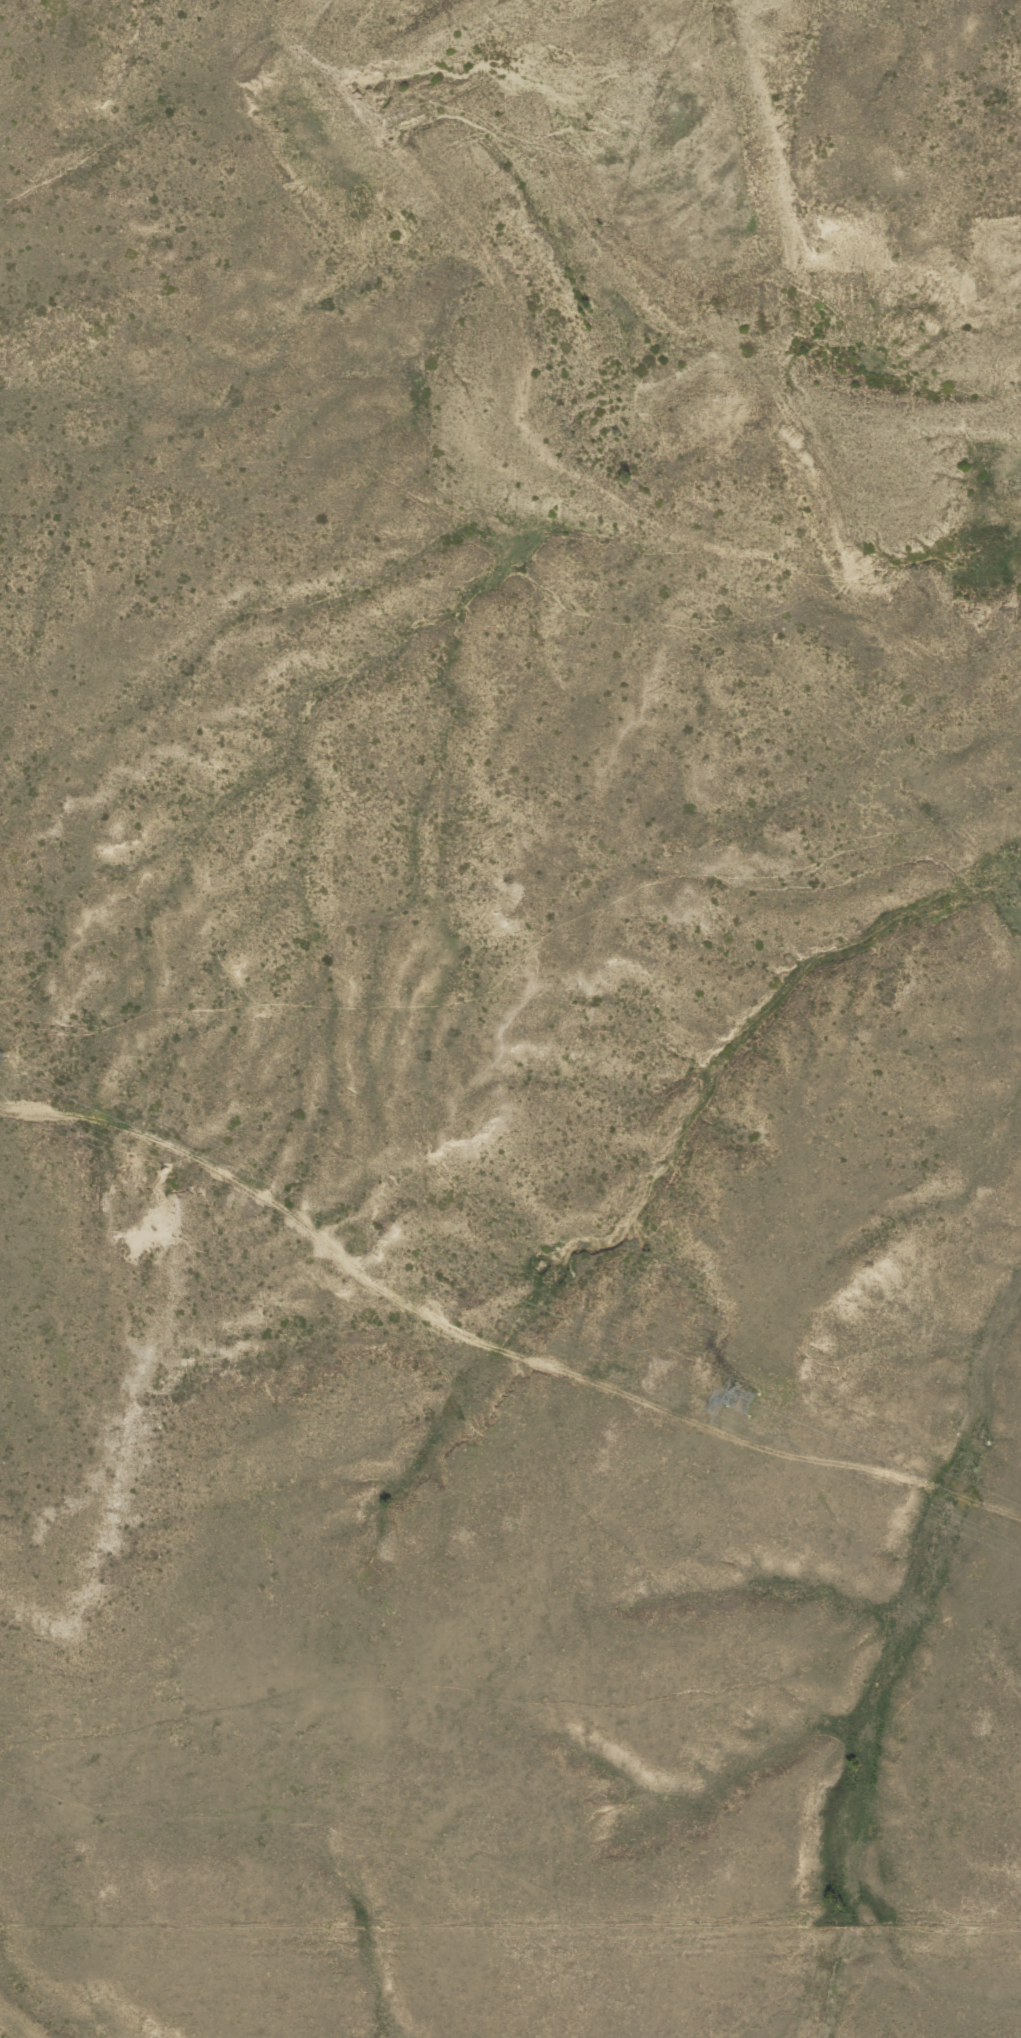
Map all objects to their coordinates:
power tower: (744, 1401)

